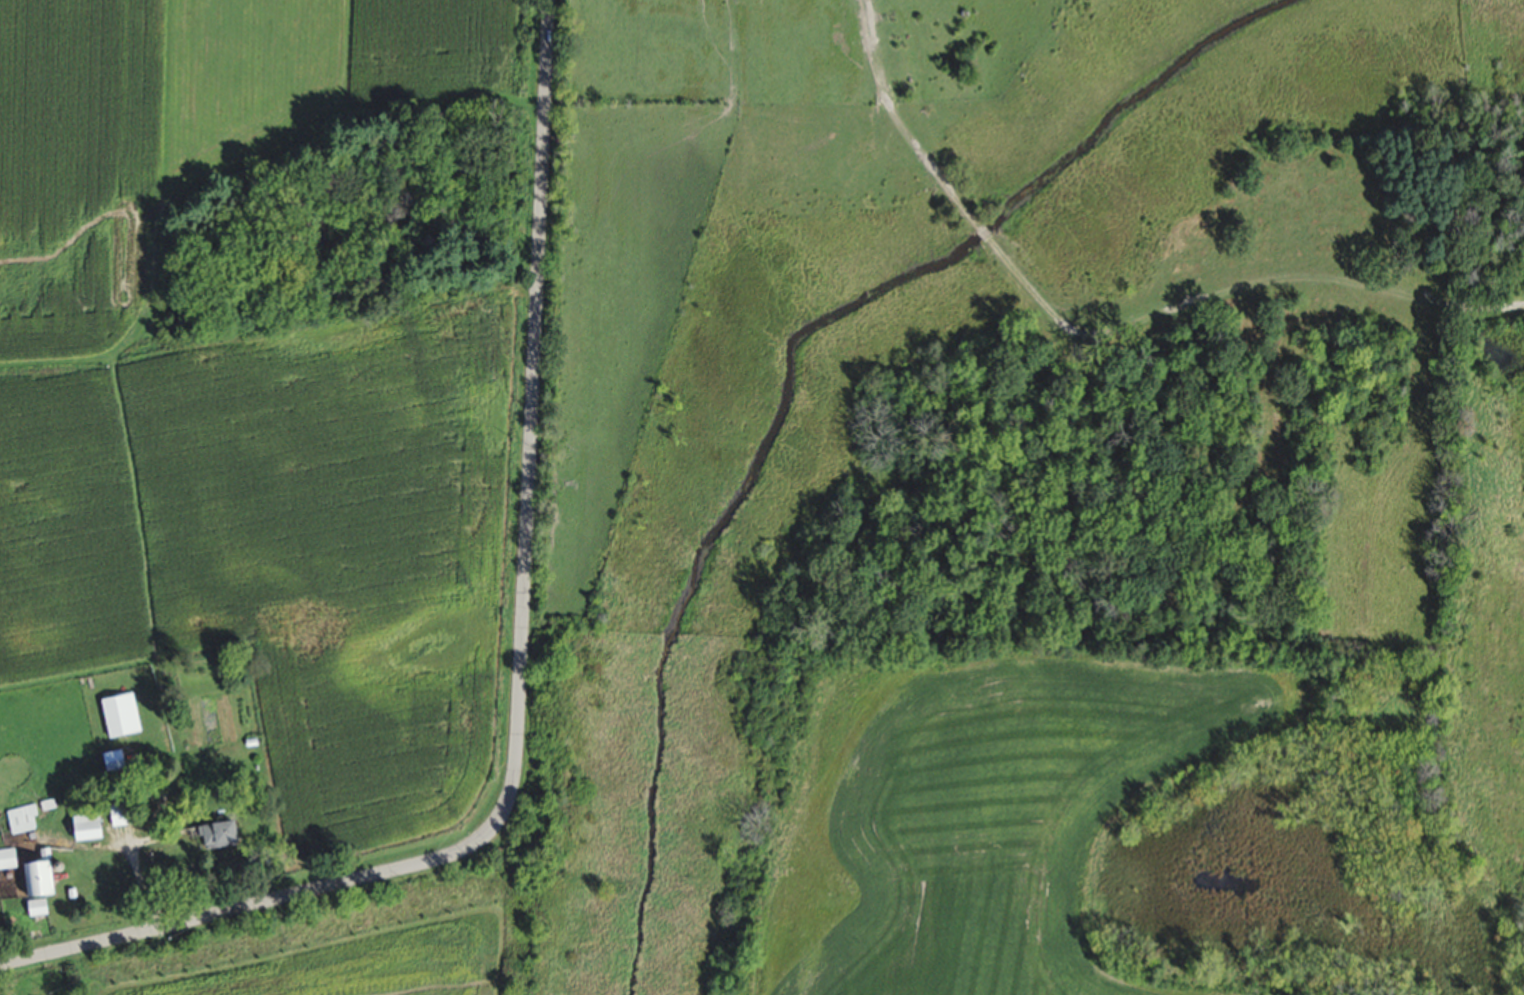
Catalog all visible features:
road: (520, 675)
building: (123, 714)
building: (24, 818)
building: (95, 827)
building: (228, 833)
building: (9, 858)
building: (44, 878)
building: (40, 906)

